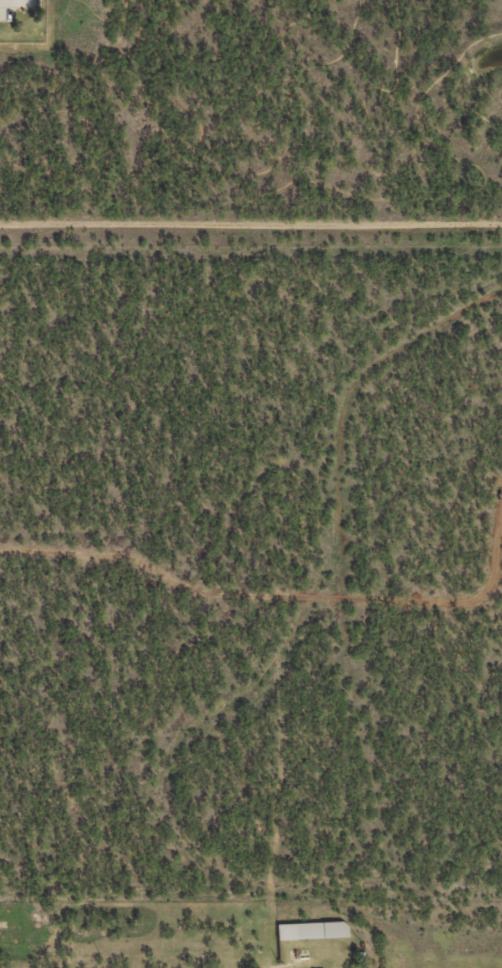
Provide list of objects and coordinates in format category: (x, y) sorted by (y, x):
road: (16, 1)
parking lot: (6, 11)
road: (104, 22)
road: (270, 198)
road: (251, 226)
building: (312, 931)

